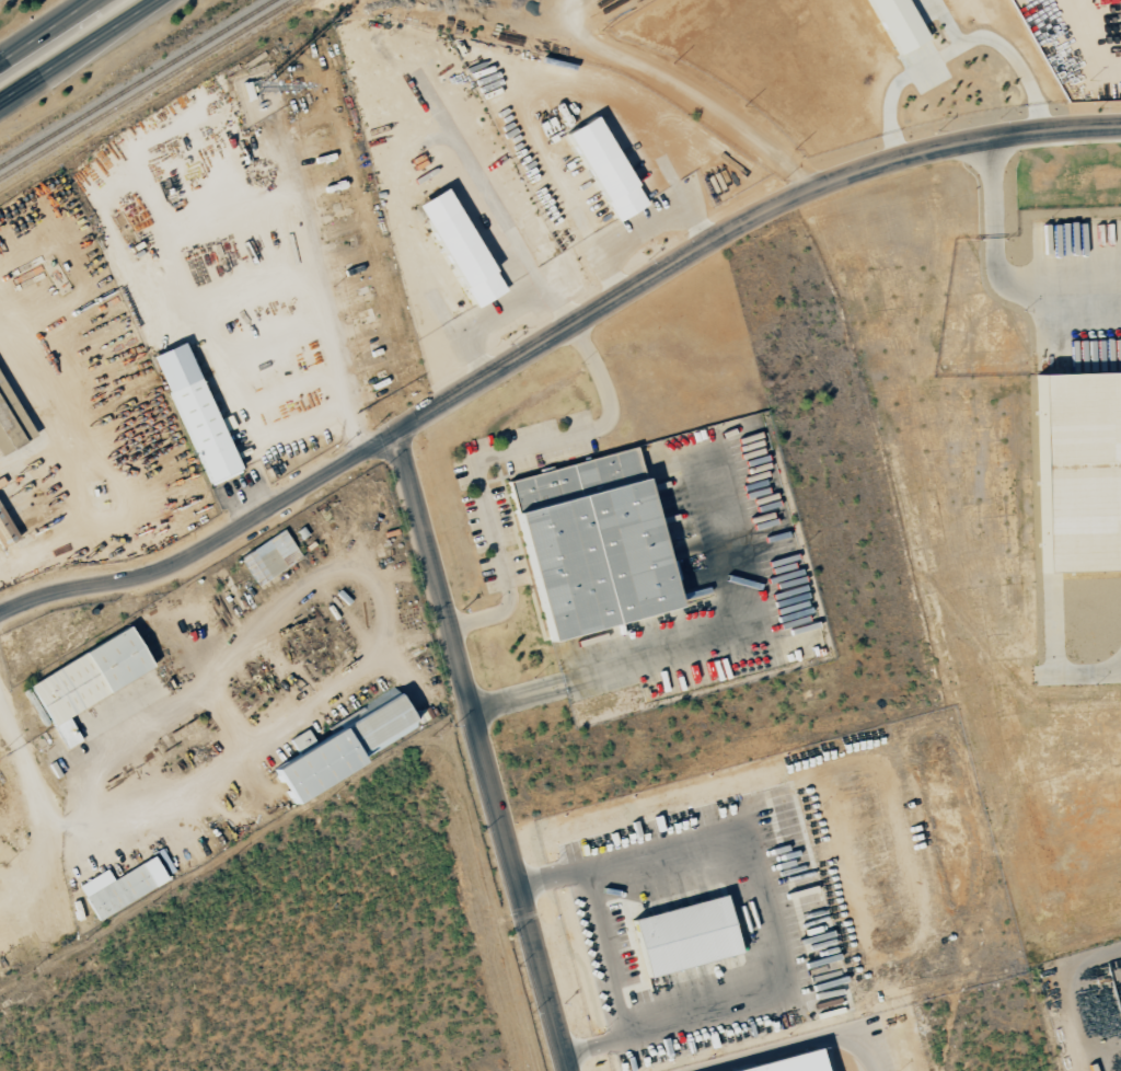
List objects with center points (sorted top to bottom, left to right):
building: (898, 23)
road: (47, 28)
road: (78, 49)
road: (1, 57)
railway: (135, 82)
railway: (146, 89)
building: (605, 168)
building: (460, 246)
road: (994, 273)
road: (551, 338)
building: (0, 385)
road: (338, 402)
building: (195, 413)
building: (15, 422)
road: (492, 456)
building: (1079, 469)
road: (246, 505)
building: (591, 542)
building: (269, 556)
road: (611, 671)
building: (86, 680)
road: (215, 701)
building: (343, 745)
road: (482, 751)
road: (23, 767)
road: (38, 868)
building: (119, 887)
building: (684, 935)
road: (788, 1044)
building: (793, 1064)

